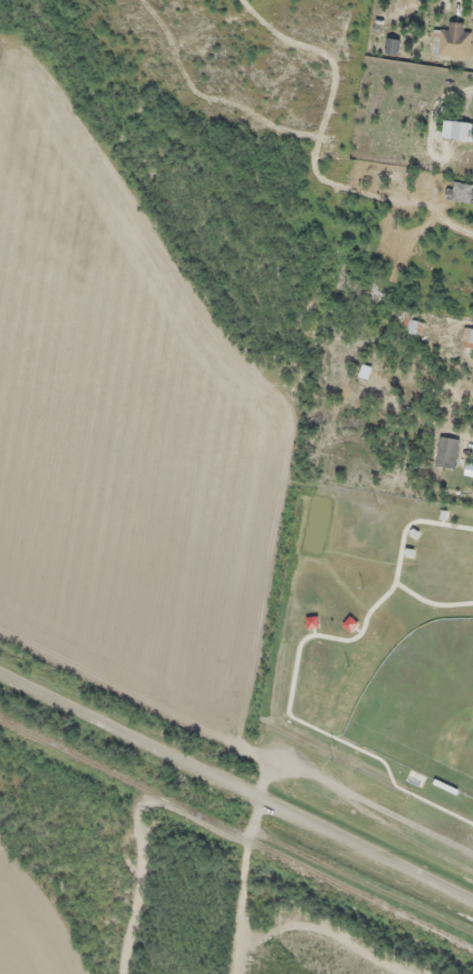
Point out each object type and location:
building: (452, 40)
building: (392, 46)
building: (461, 131)
building: (460, 192)
road: (446, 221)
building: (413, 326)
building: (468, 338)
building: (447, 452)
road: (449, 455)
road: (237, 776)
railway: (237, 832)
road: (244, 880)

